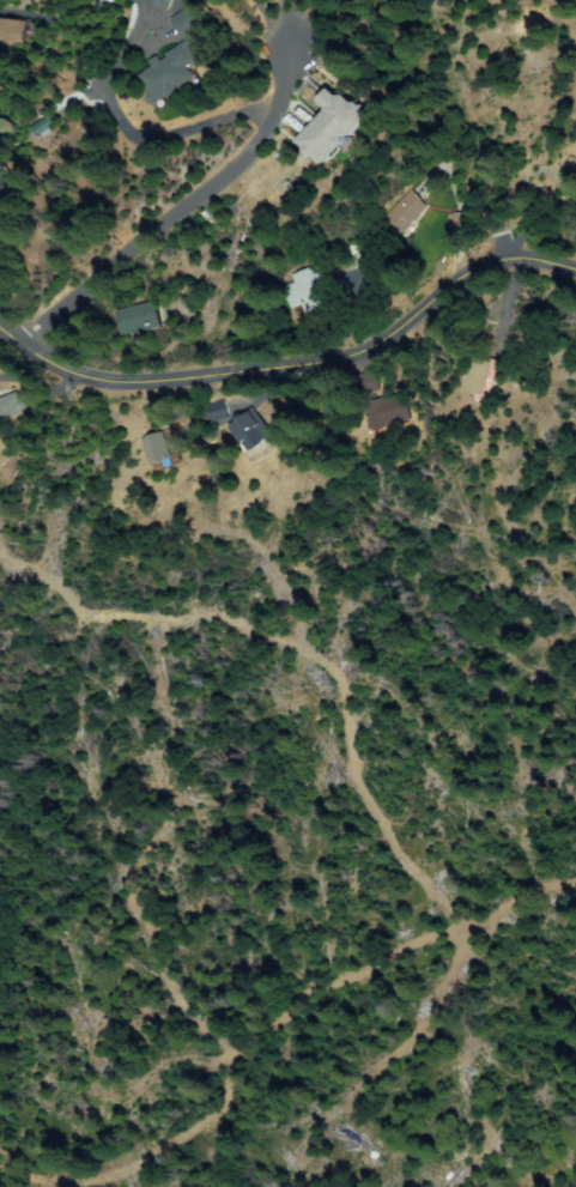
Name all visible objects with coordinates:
building: (163, 2)
building: (189, 22)
building: (12, 30)
building: (170, 77)
building: (332, 125)
building: (6, 129)
building: (575, 168)
building: (405, 212)
building: (2, 218)
building: (456, 224)
building: (497, 225)
road: (150, 244)
building: (309, 291)
building: (140, 319)
road: (295, 364)
building: (480, 376)
building: (371, 381)
building: (12, 405)
building: (217, 412)
building: (389, 413)
building: (251, 432)
building: (163, 447)

